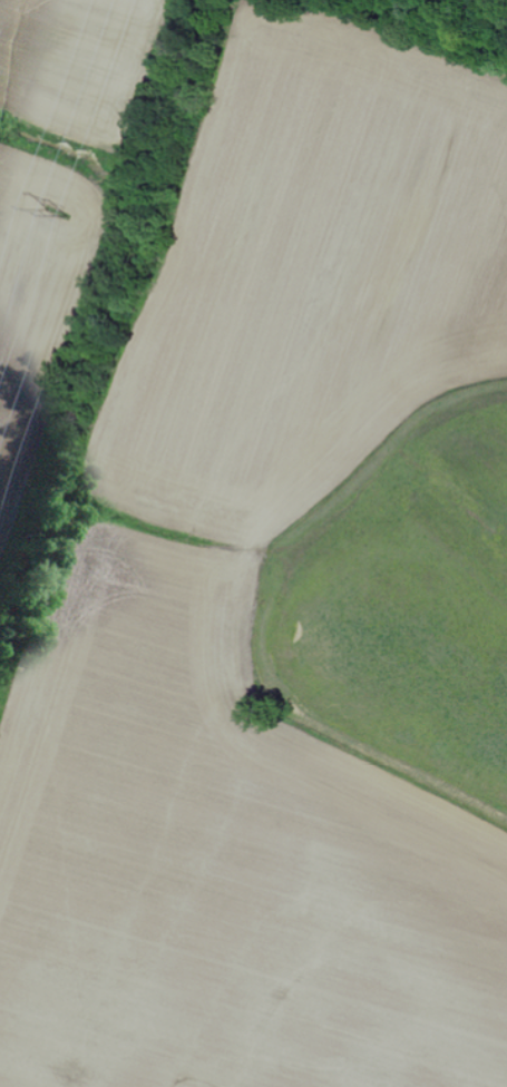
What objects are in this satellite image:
power tower: (59, 207)

